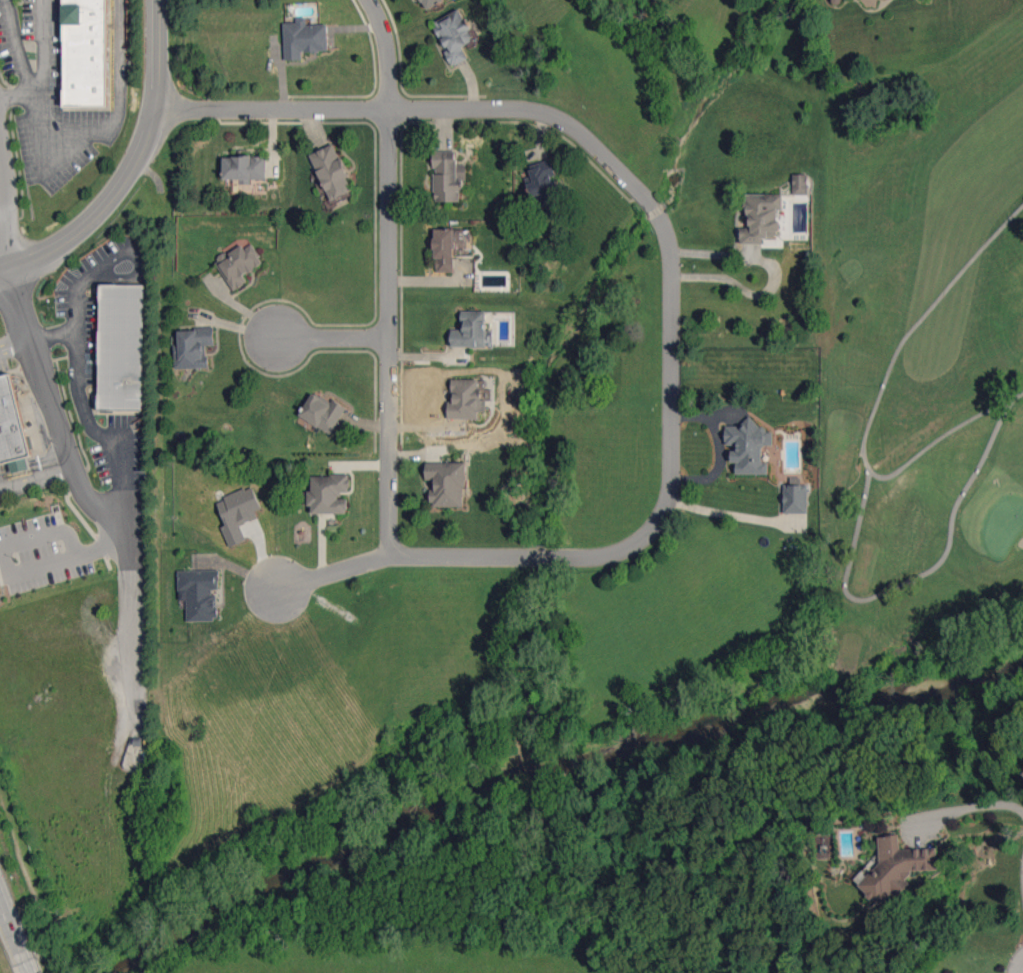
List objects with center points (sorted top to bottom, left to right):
building: (430, 3)
building: (454, 35)
building: (304, 38)
road: (13, 43)
road: (390, 52)
building: (85, 53)
road: (39, 59)
road: (133, 168)
building: (245, 168)
building: (332, 172)
building: (448, 176)
building: (800, 184)
building: (545, 188)
building: (762, 218)
road: (1, 235)
building: (447, 247)
road: (135, 255)
building: (239, 264)
road: (771, 273)
road: (674, 298)
road: (73, 308)
road: (17, 318)
building: (472, 330)
road: (392, 331)
road: (334, 338)
building: (121, 347)
building: (193, 347)
park: (921, 357)
road: (48, 403)
road: (83, 407)
building: (322, 412)
building: (12, 428)
building: (748, 446)
road: (715, 449)
building: (446, 483)
building: (328, 493)
building: (795, 498)
building: (237, 512)
road: (726, 518)
road: (131, 524)
park: (1003, 525)
road: (45, 532)
road: (108, 534)
road: (33, 565)
building: (200, 593)
river: (550, 769)
road: (969, 805)
building: (894, 868)
road: (1021, 875)
road: (14, 936)
road: (1017, 963)

